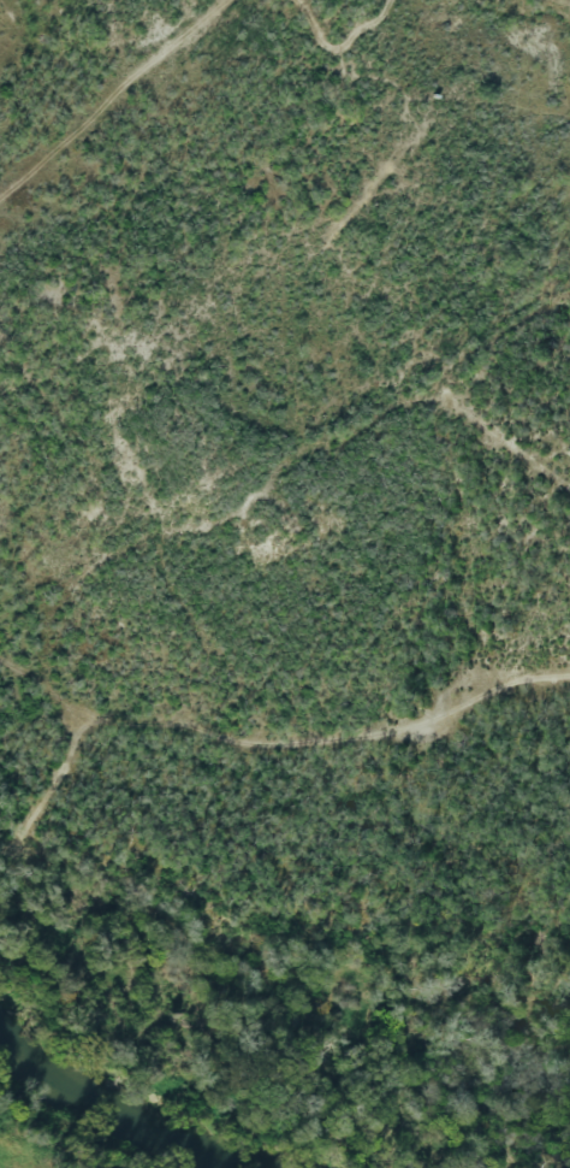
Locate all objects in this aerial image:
river: (118, 1115)

